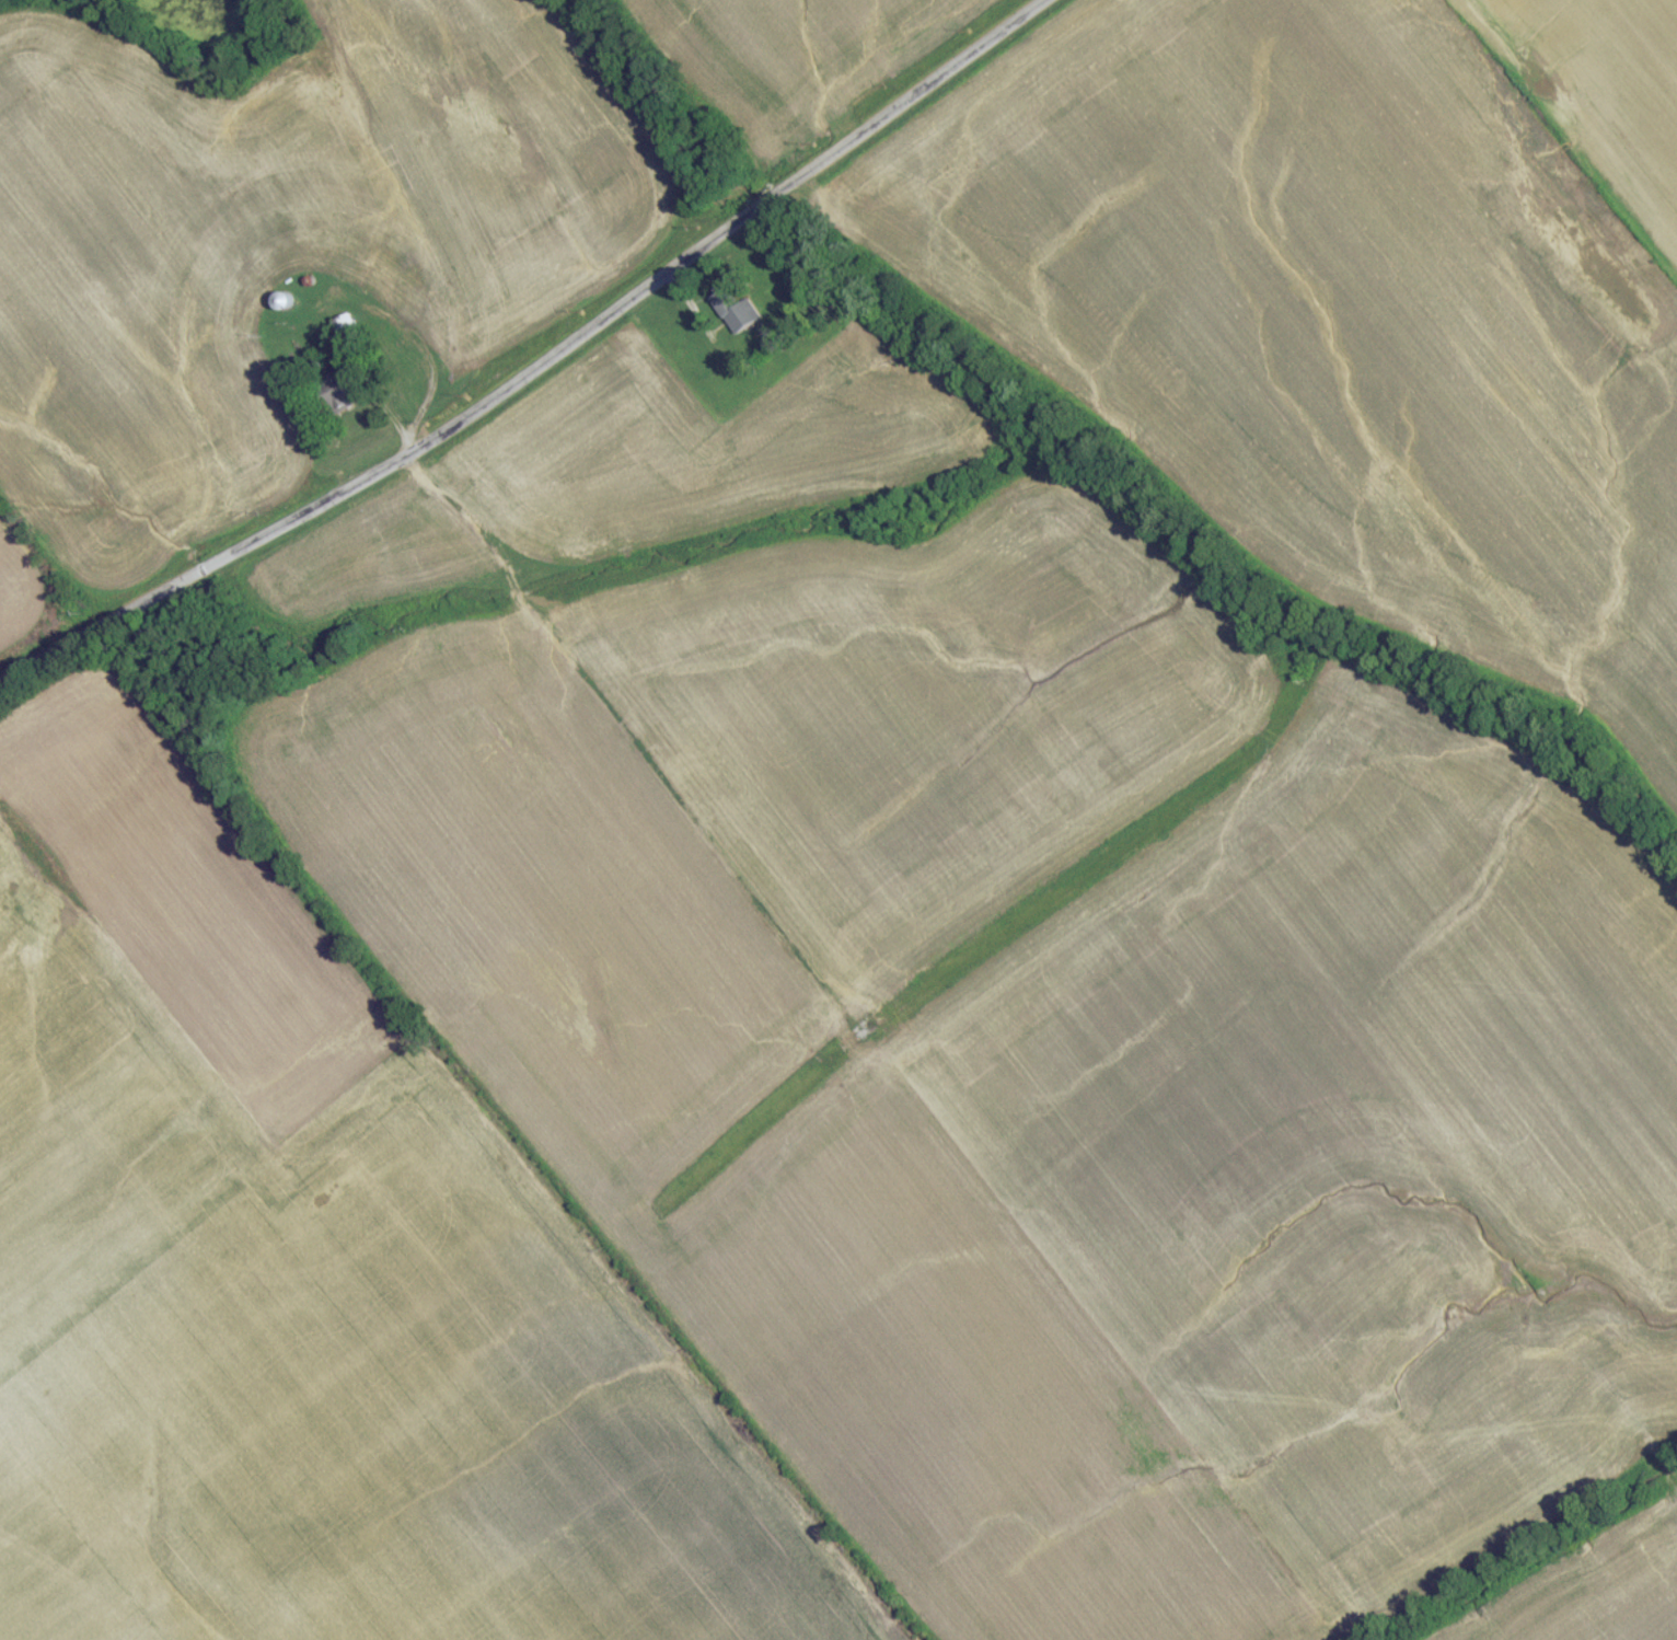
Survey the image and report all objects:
building: (347, 336)
road: (533, 369)
building: (342, 397)

